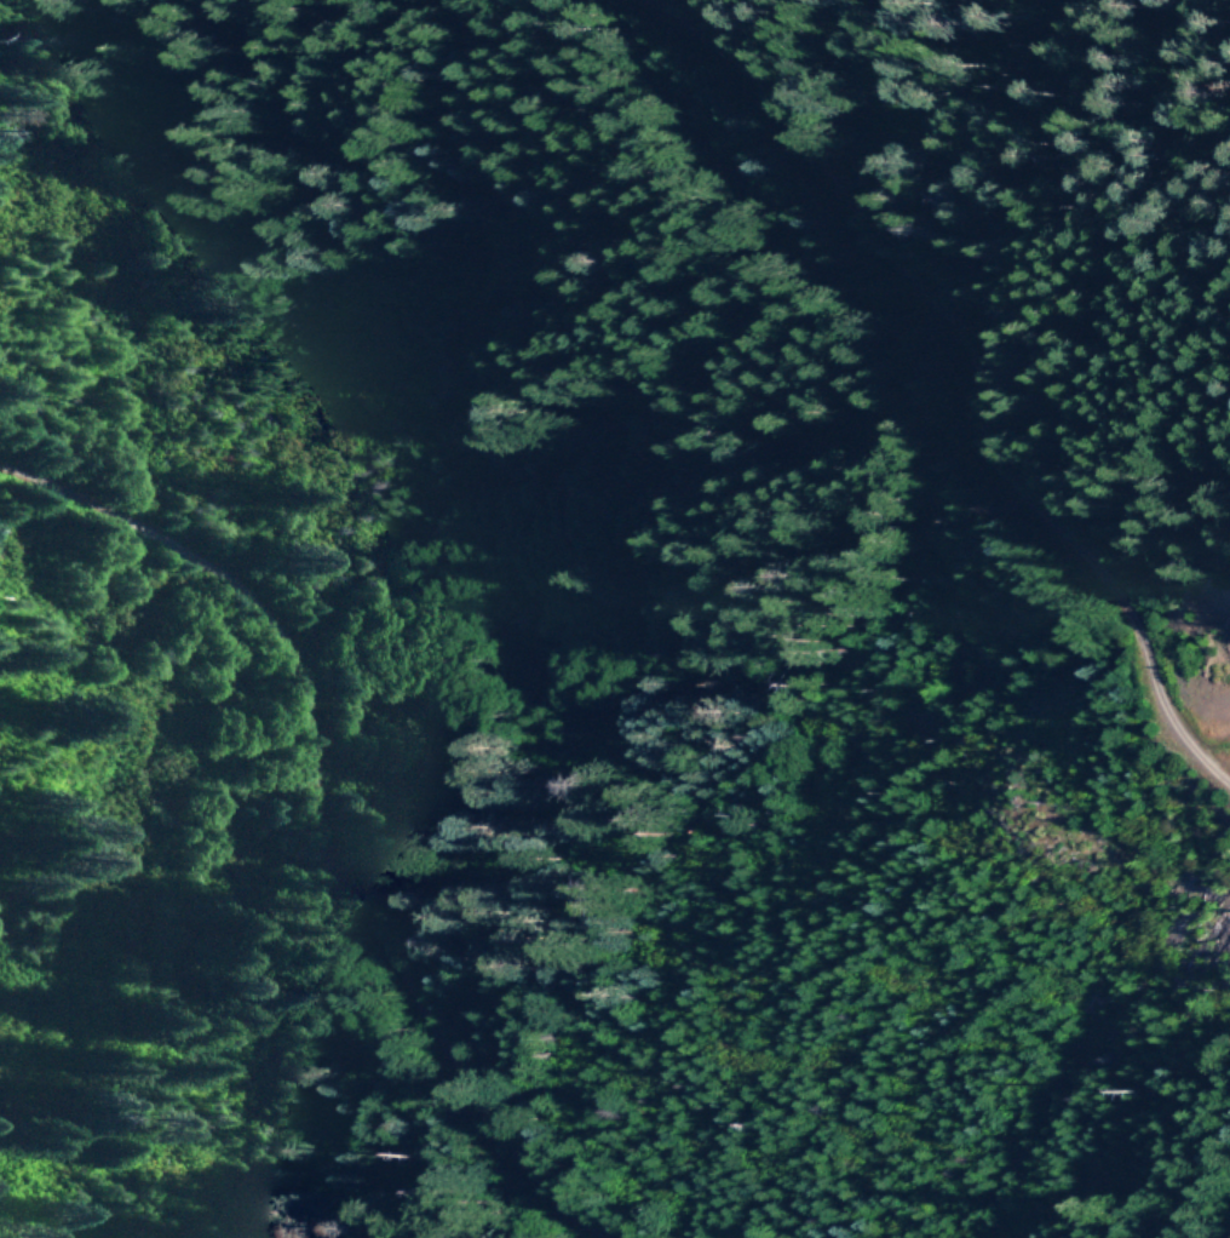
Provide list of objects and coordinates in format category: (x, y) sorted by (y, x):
road: (947, 380)
road: (329, 810)

